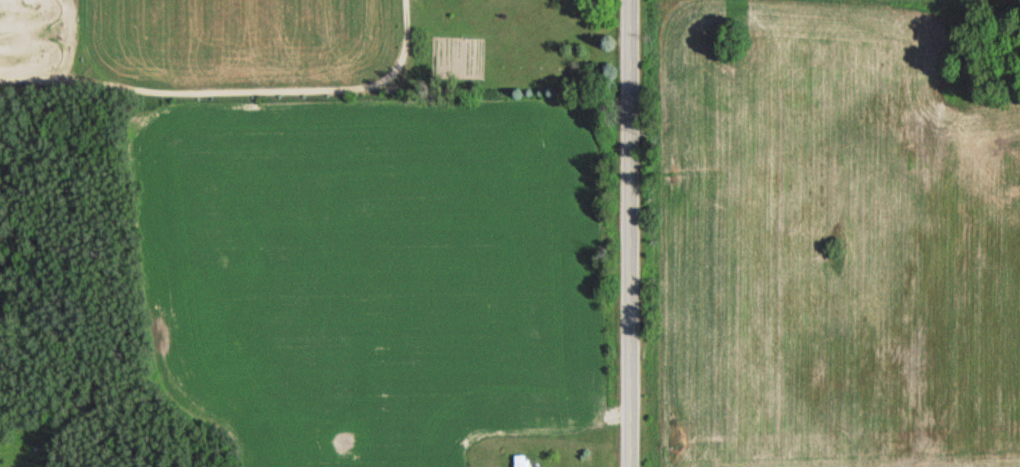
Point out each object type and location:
road: (634, 233)
building: (519, 461)

